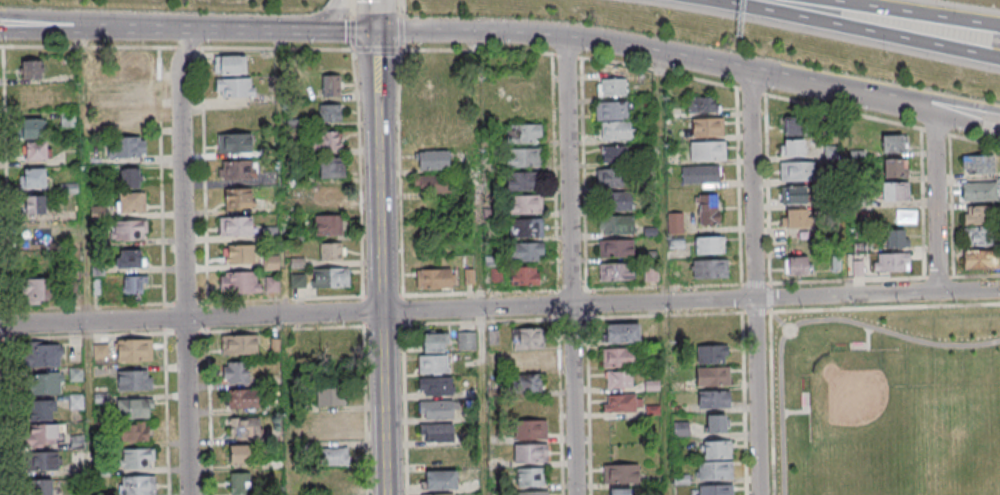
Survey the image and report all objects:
road: (399, 7)
road: (351, 8)
road: (919, 11)
road: (25, 14)
road: (377, 15)
road: (324, 18)
road: (129, 22)
road: (864, 28)
road: (104, 30)
road: (293, 30)
road: (401, 32)
road: (351, 33)
road: (614, 43)
road: (190, 44)
road: (1, 47)
road: (102, 48)
road: (382, 51)
building: (128, 64)
building: (230, 64)
building: (32, 69)
building: (331, 85)
building: (235, 87)
building: (612, 87)
building: (429, 90)
building: (521, 92)
building: (128, 93)
building: (34, 94)
road: (924, 96)
building: (703, 104)
building: (611, 111)
road: (923, 112)
building: (330, 113)
building: (429, 114)
building: (128, 119)
building: (707, 126)
building: (793, 126)
building: (30, 128)
building: (616, 132)
building: (523, 133)
building: (326, 140)
building: (234, 142)
building: (893, 143)
building: (125, 147)
building: (792, 147)
building: (708, 150)
building: (33, 151)
building: (831, 153)
building: (614, 154)
building: (524, 157)
building: (432, 160)
building: (978, 164)
building: (331, 167)
building: (895, 167)
building: (236, 169)
building: (797, 172)
building: (700, 174)
building: (33, 178)
building: (129, 178)
building: (610, 178)
building: (523, 180)
building: (430, 183)
road: (361, 188)
building: (981, 190)
road: (183, 191)
building: (895, 191)
building: (327, 194)
building: (793, 196)
building: (239, 198)
building: (129, 202)
building: (619, 202)
building: (34, 204)
building: (524, 204)
road: (937, 204)
building: (707, 208)
road: (740, 215)
building: (796, 218)
building: (675, 222)
building: (615, 224)
building: (235, 225)
building: (328, 225)
building: (980, 226)
building: (525, 227)
building: (130, 229)
building: (895, 238)
building: (709, 244)
building: (29, 245)
building: (616, 247)
building: (332, 251)
road: (402, 251)
building: (525, 251)
building: (239, 254)
building: (130, 258)
building: (980, 259)
building: (891, 261)
road: (382, 262)
road: (572, 265)
building: (796, 266)
building: (712, 268)
road: (8, 271)
road: (164, 271)
building: (616, 271)
building: (492, 273)
road: (664, 273)
building: (524, 275)
building: (330, 277)
building: (434, 278)
road: (755, 281)
building: (240, 282)
building: (134, 284)
building: (272, 284)
road: (790, 284)
road: (664, 288)
building: (37, 289)
road: (569, 292)
road: (206, 304)
road: (885, 307)
road: (500, 308)
road: (4, 310)
road: (811, 319)
road: (779, 320)
road: (405, 326)
building: (622, 333)
road: (181, 334)
building: (528, 338)
building: (465, 340)
building: (433, 342)
building: (239, 344)
road: (867, 345)
building: (134, 349)
building: (333, 352)
building: (46, 354)
building: (712, 354)
building: (617, 357)
building: (528, 362)
building: (432, 364)
building: (237, 372)
building: (713, 376)
building: (619, 379)
building: (134, 380)
building: (45, 383)
building: (528, 383)
building: (435, 386)
road: (771, 387)
road: (365, 390)
building: (331, 397)
building: (242, 398)
building: (713, 399)
road: (483, 401)
building: (622, 402)
park: (888, 402)
road: (742, 403)
road: (287, 405)
road: (188, 406)
building: (136, 407)
building: (435, 409)
building: (44, 410)
road: (801, 411)
park: (879, 417)
building: (716, 423)
building: (331, 425)
building: (244, 426)
building: (530, 429)
building: (137, 431)
building: (436, 432)
building: (46, 433)
building: (716, 449)
building: (239, 453)
building: (530, 453)
park: (985, 454)
building: (334, 455)
building: (436, 456)
building: (138, 457)
building: (45, 460)
building: (714, 471)
building: (621, 473)
building: (530, 477)
building: (334, 479)
building: (439, 480)
building: (240, 483)
building: (137, 485)
building: (39, 487)
building: (715, 489)
building: (620, 491)
building: (532, 493)

